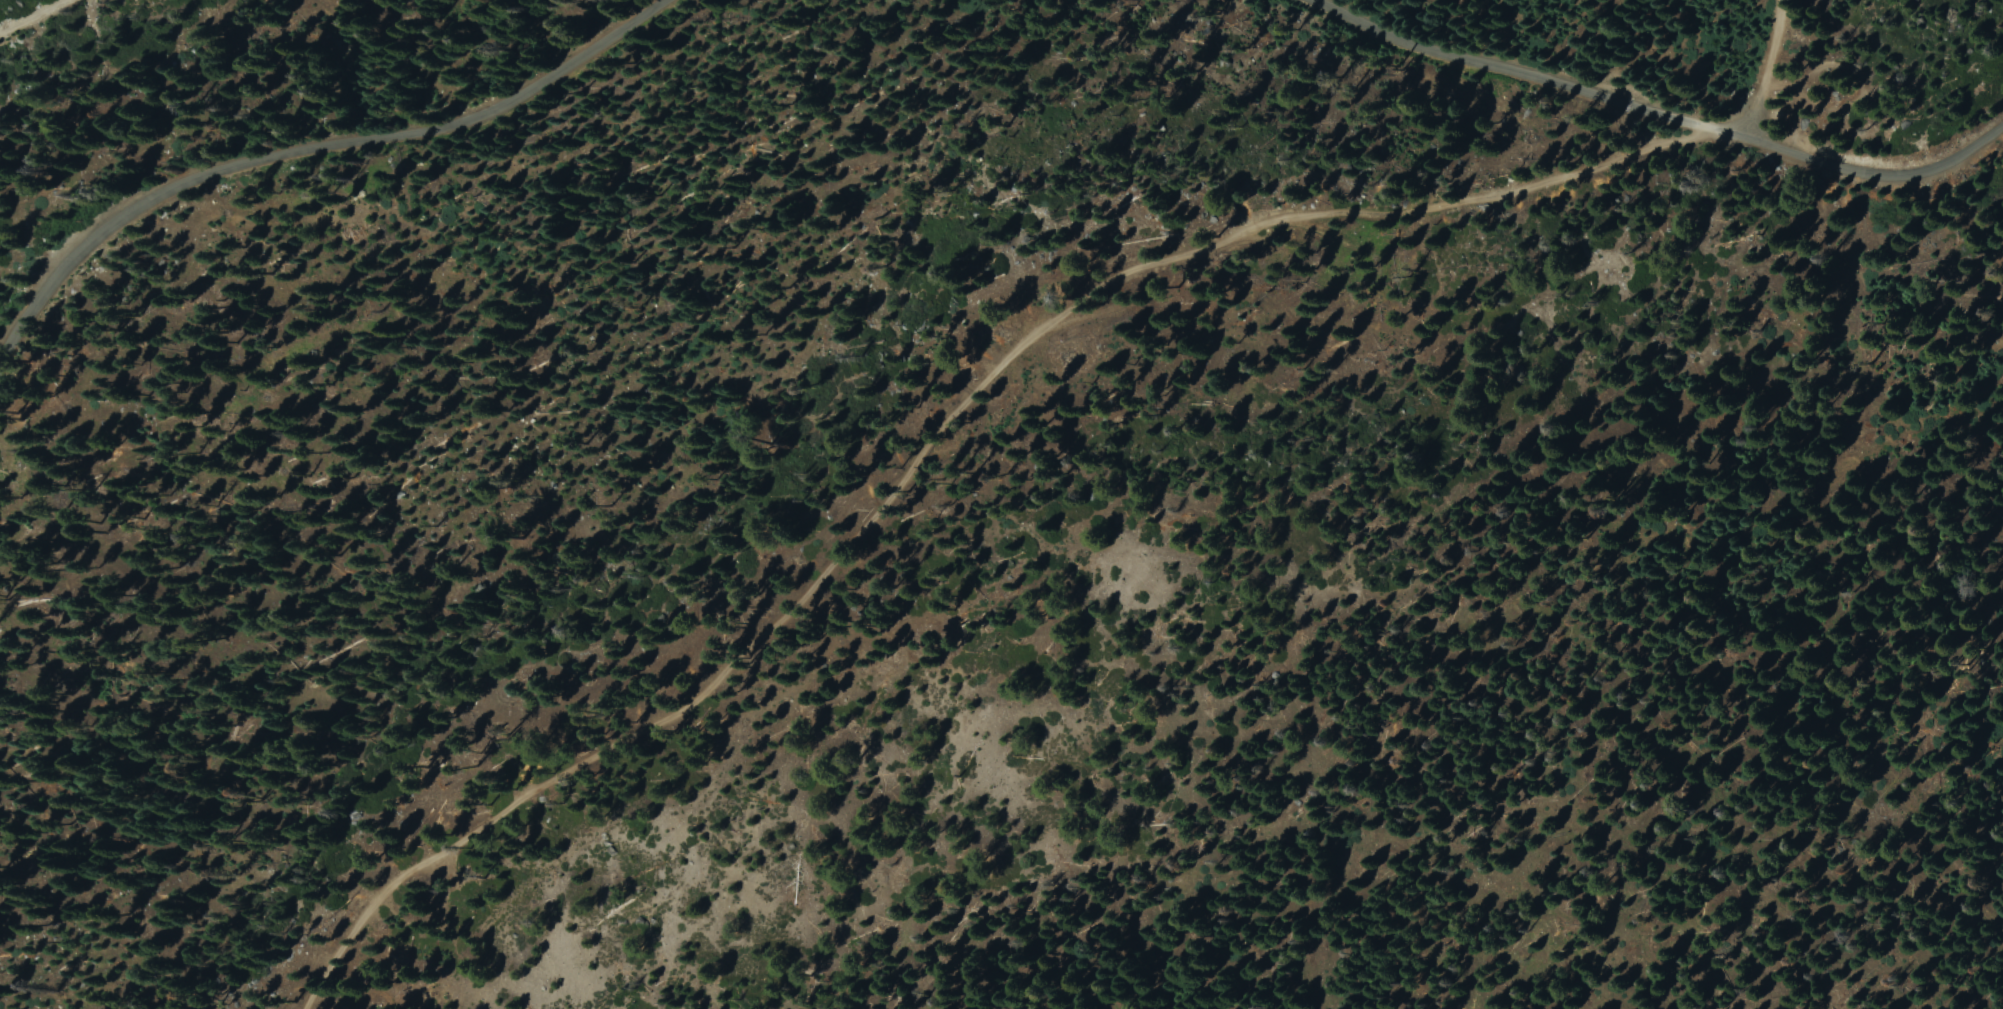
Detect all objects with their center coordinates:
road: (18, 12)
road: (1770, 70)
road: (1529, 76)
road: (311, 150)
road: (1881, 176)
road: (909, 395)

